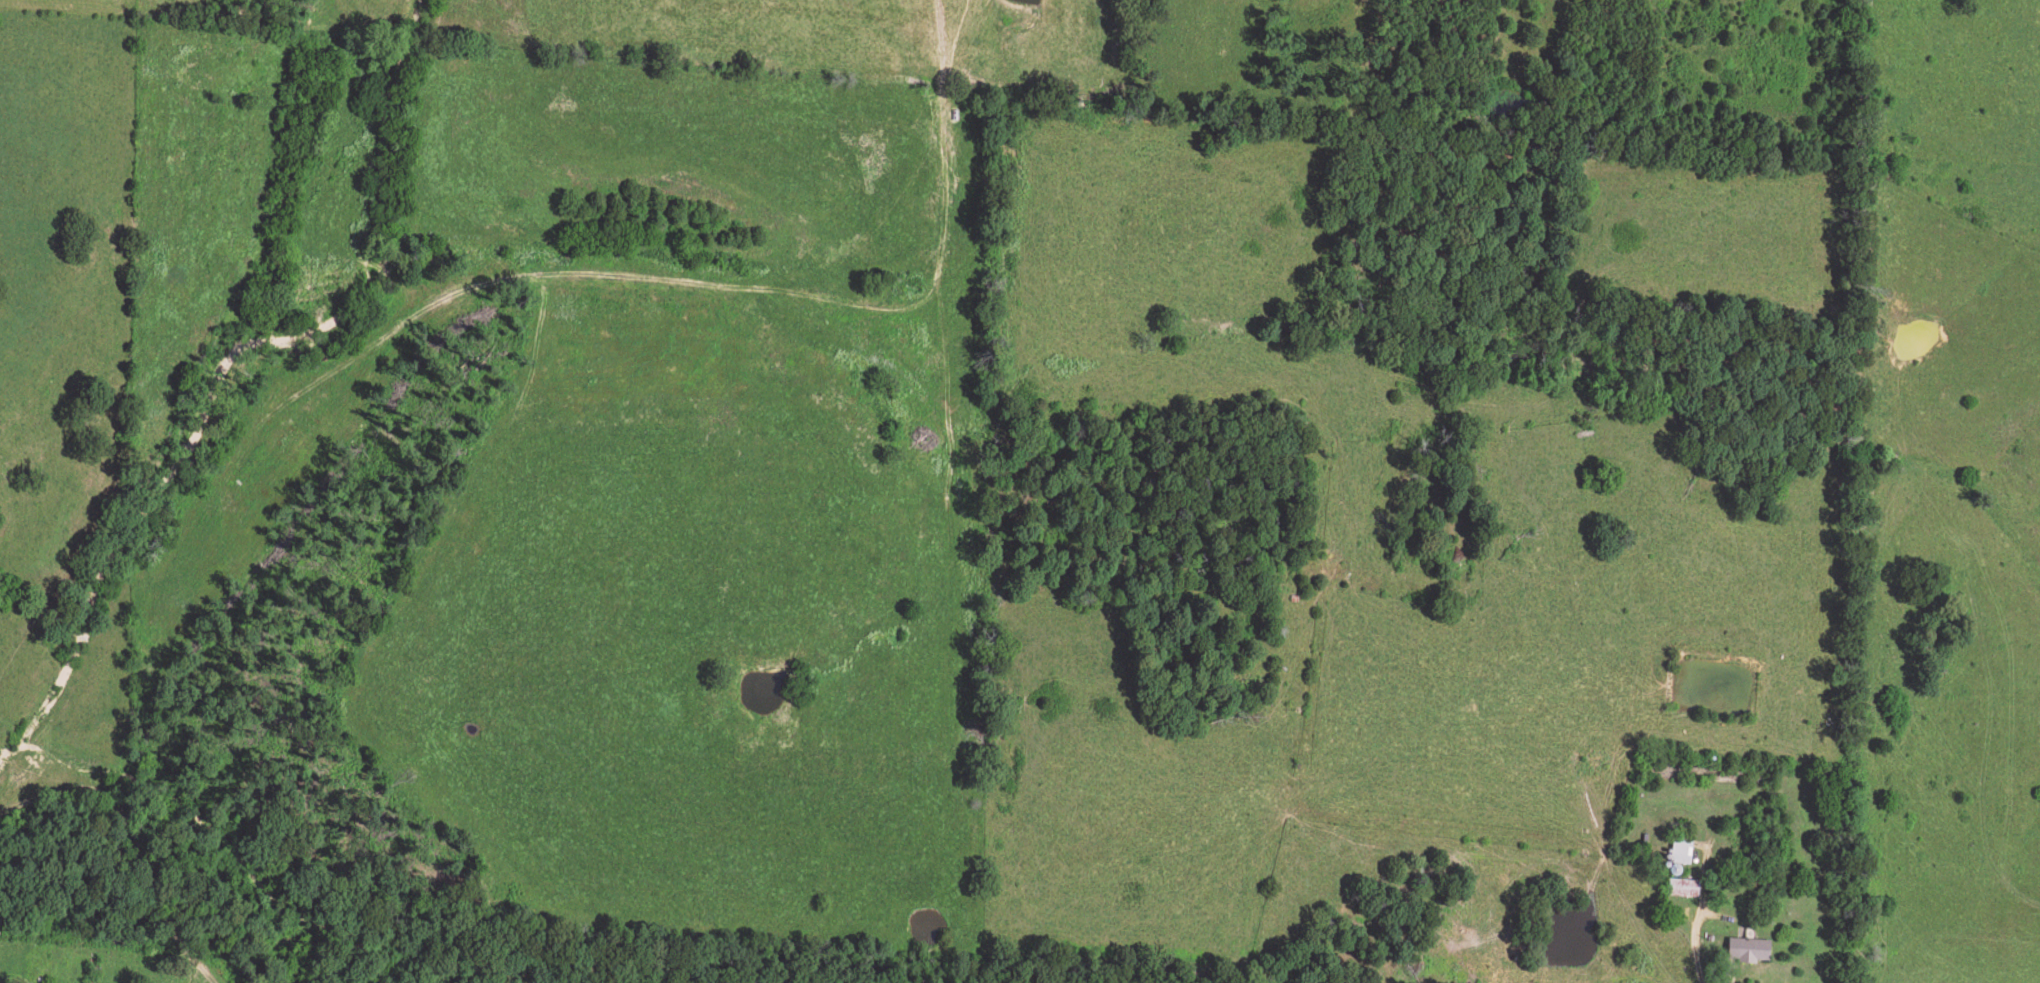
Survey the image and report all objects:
building: (1675, 852)
building: (1677, 886)
building: (1742, 948)

